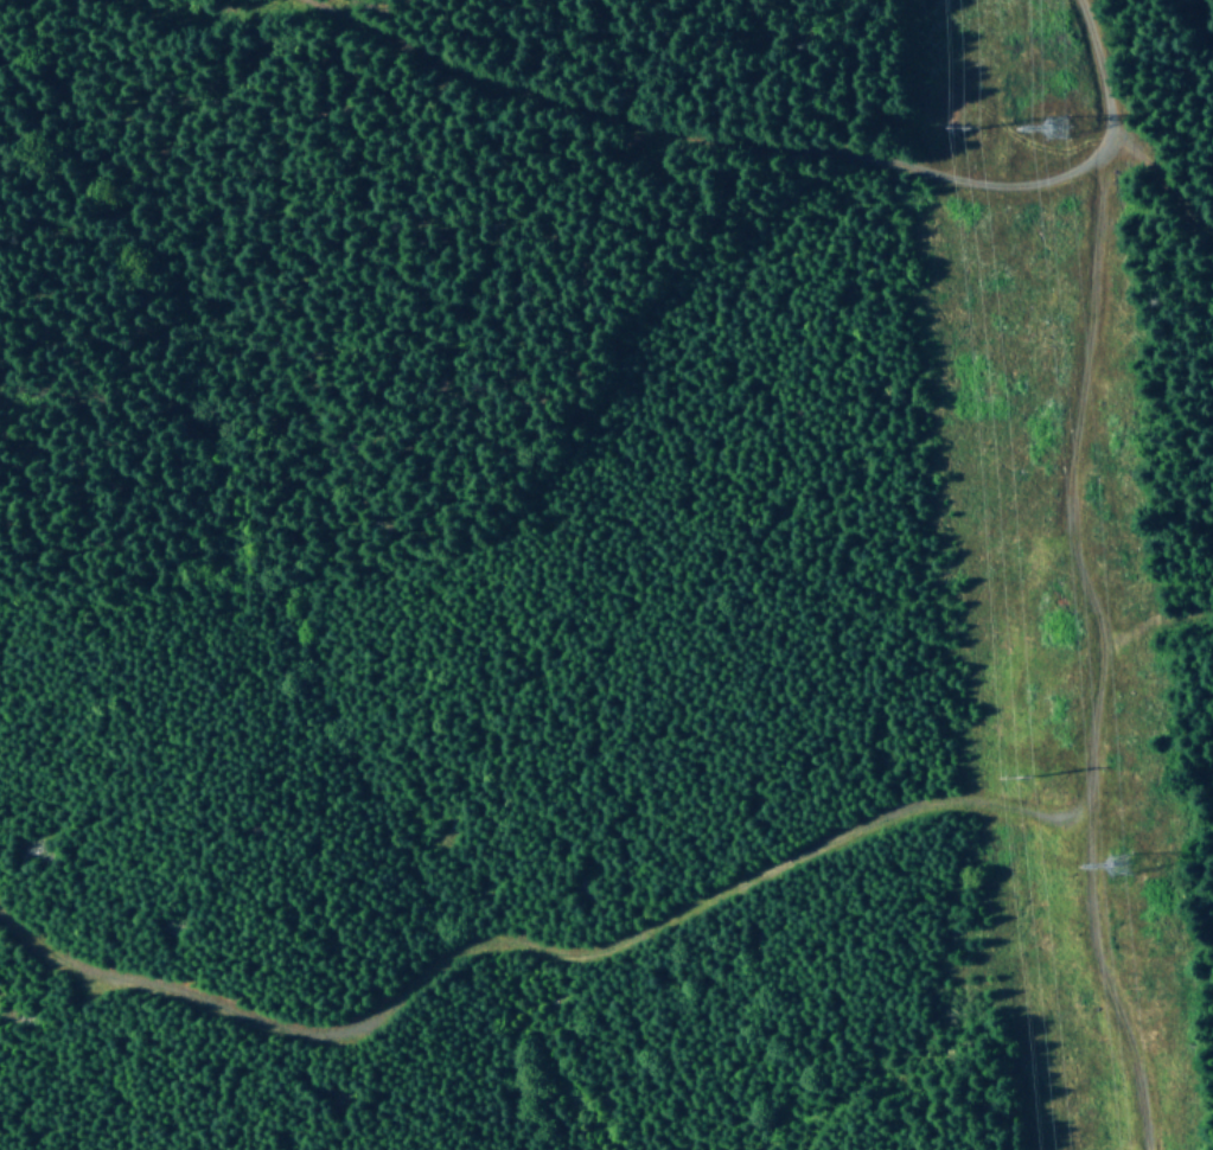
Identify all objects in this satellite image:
power tower: (963, 129)
power tower: (1048, 129)
power tower: (1003, 775)
power tower: (1109, 864)

